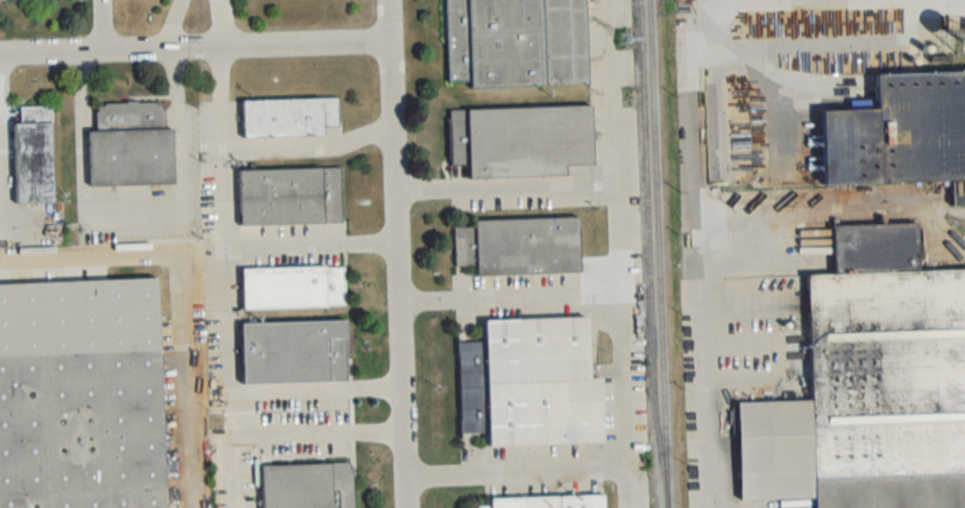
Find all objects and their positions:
road: (705, 4)
road: (705, 13)
road: (207, 25)
road: (99, 27)
power tower: (625, 40)
building: (516, 43)
road: (195, 51)
road: (604, 93)
building: (288, 117)
building: (521, 140)
building: (906, 141)
building: (130, 145)
road: (261, 147)
building: (33, 155)
road: (506, 187)
building: (290, 196)
road: (131, 214)
road: (10, 237)
railway: (647, 243)
road: (276, 244)
building: (519, 245)
road: (397, 254)
railway: (658, 254)
building: (293, 286)
road: (190, 289)
road: (509, 296)
road: (621, 347)
building: (294, 351)
road: (705, 372)
building: (530, 383)
building: (870, 384)
road: (243, 389)
road: (312, 430)
building: (82, 431)
road: (515, 468)
building: (306, 485)
building: (548, 501)

